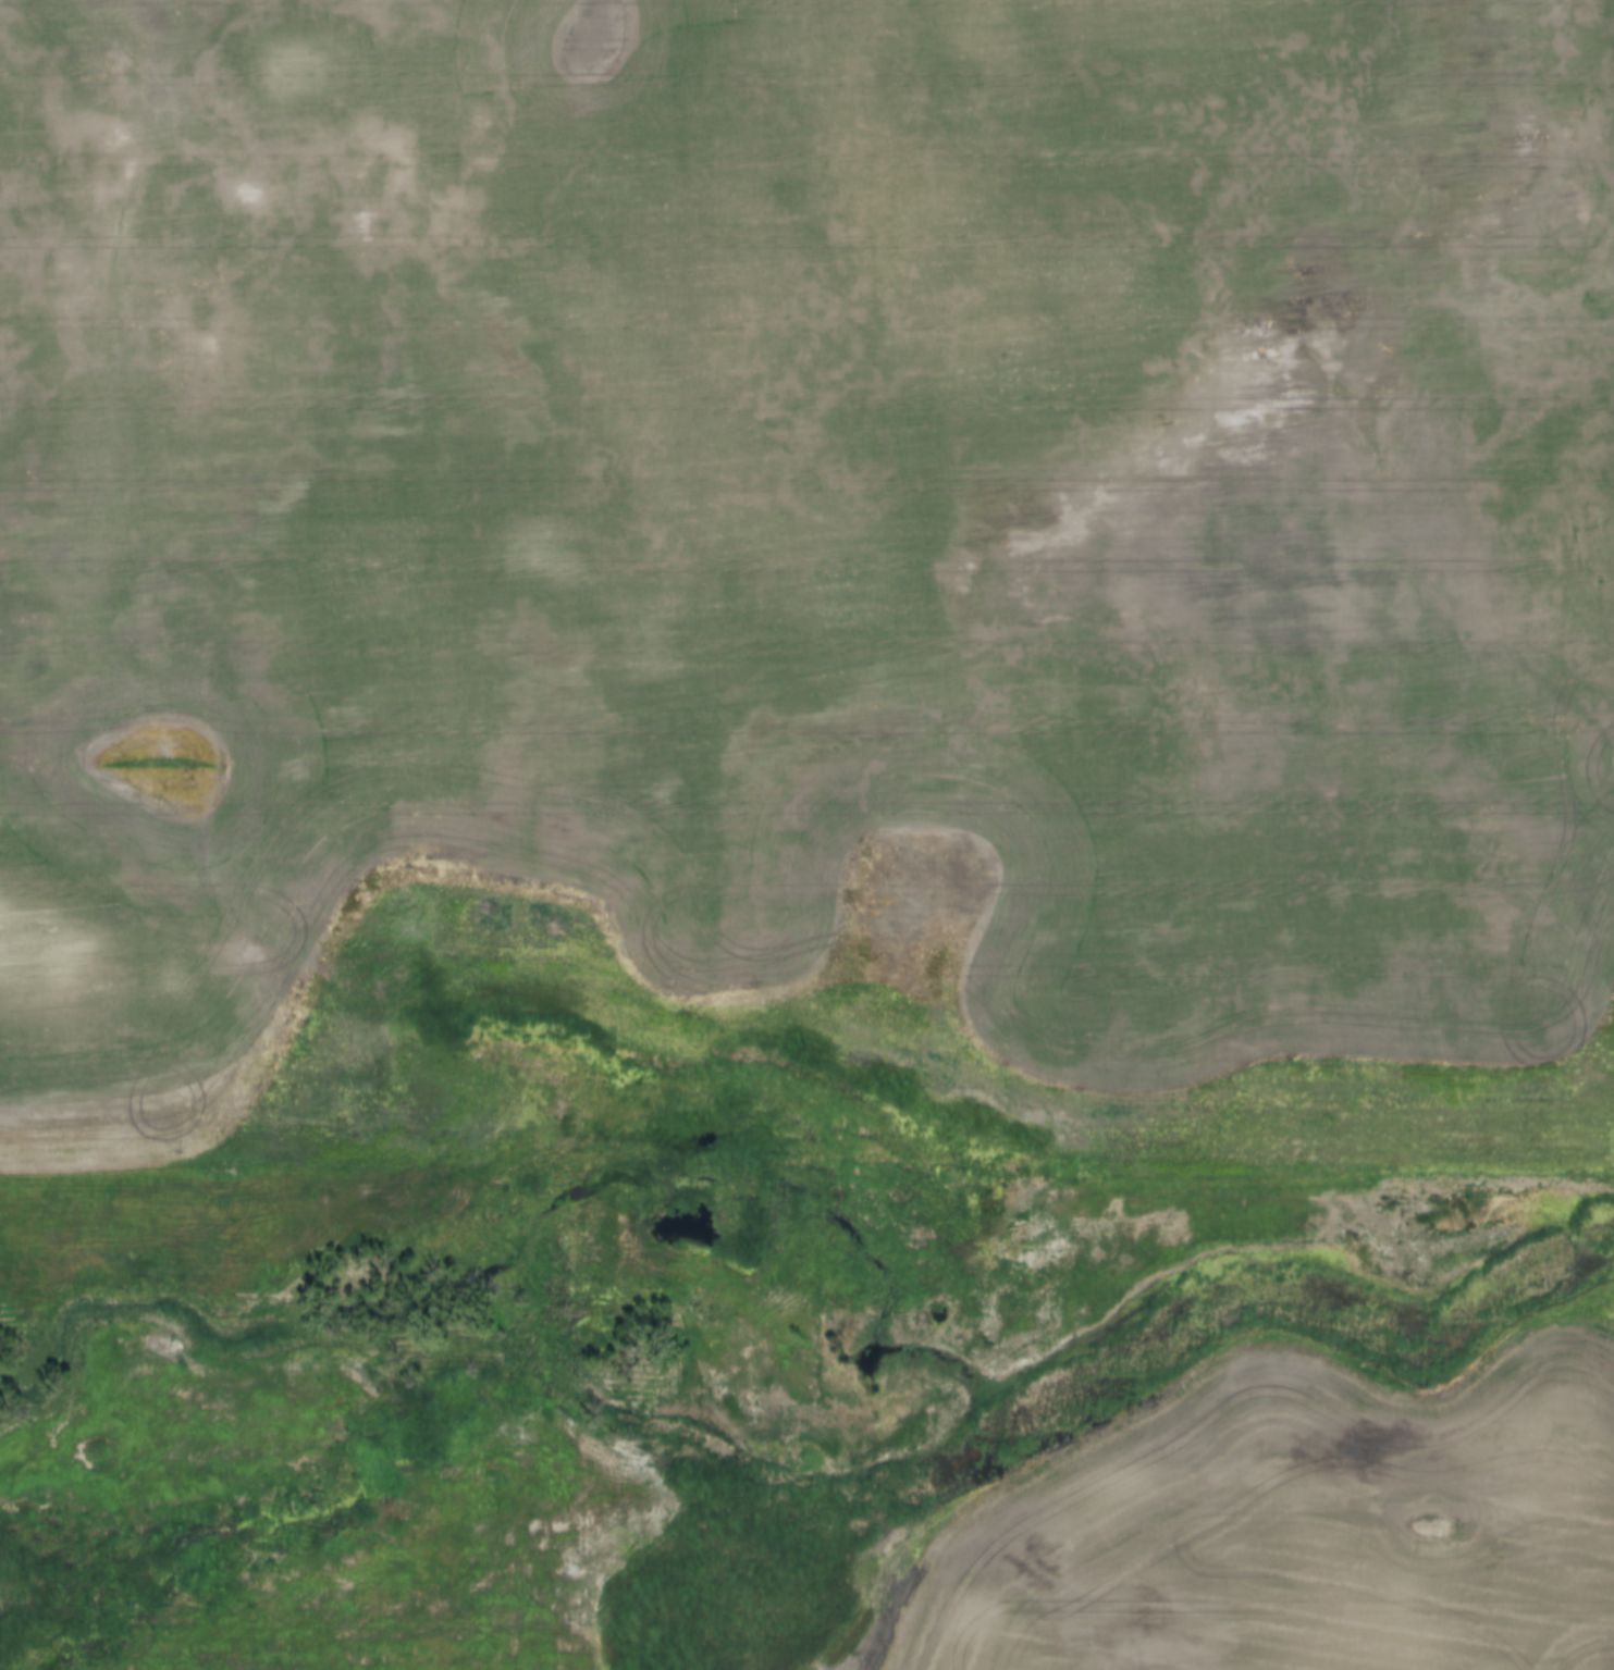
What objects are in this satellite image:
building: (1277, 1576)
building: (1193, 1598)
building: (1351, 1657)

